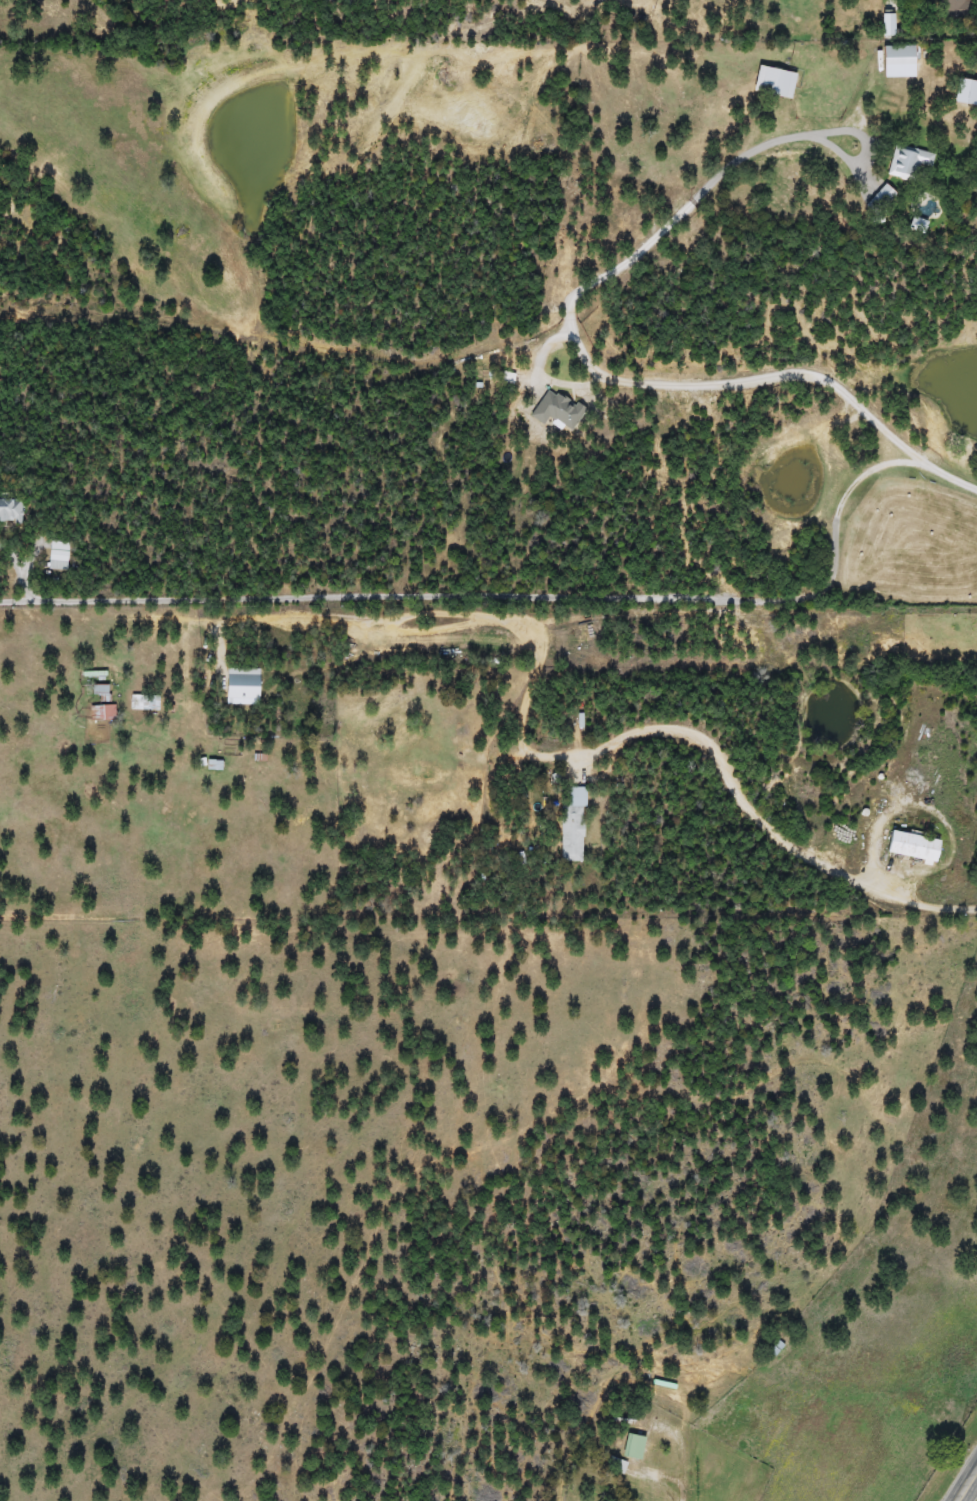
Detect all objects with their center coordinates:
building: (953, 9)
building: (887, 25)
building: (896, 58)
building: (965, 92)
building: (879, 200)
road: (619, 372)
building: (555, 410)
building: (10, 511)
building: (57, 552)
road: (511, 592)
building: (240, 687)
building: (98, 693)
road: (709, 745)
road: (595, 761)
building: (572, 824)
building: (909, 847)
building: (615, 1465)
road: (966, 1484)

